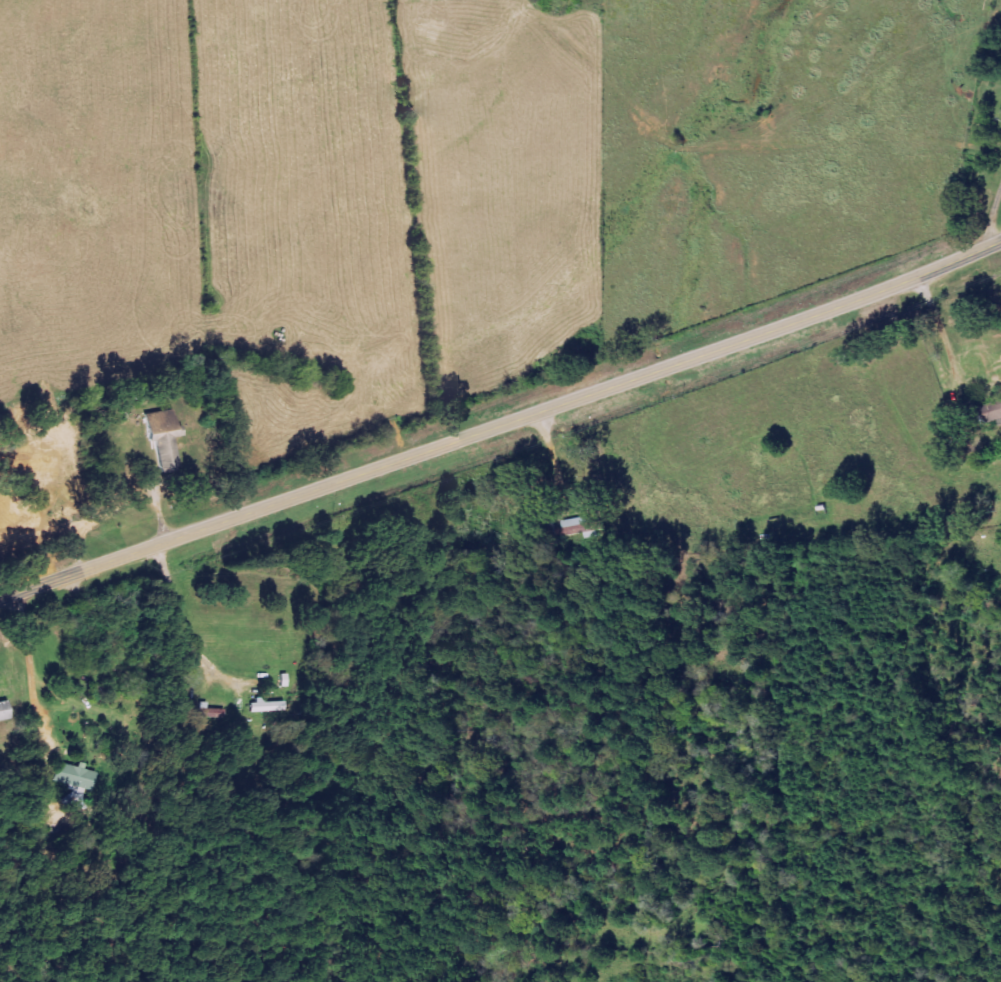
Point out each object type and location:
road: (991, 216)
road: (942, 341)
building: (987, 414)
road: (502, 423)
building: (163, 439)
road: (547, 447)
building: (578, 528)
building: (264, 706)
building: (4, 712)
building: (75, 776)
building: (77, 797)

